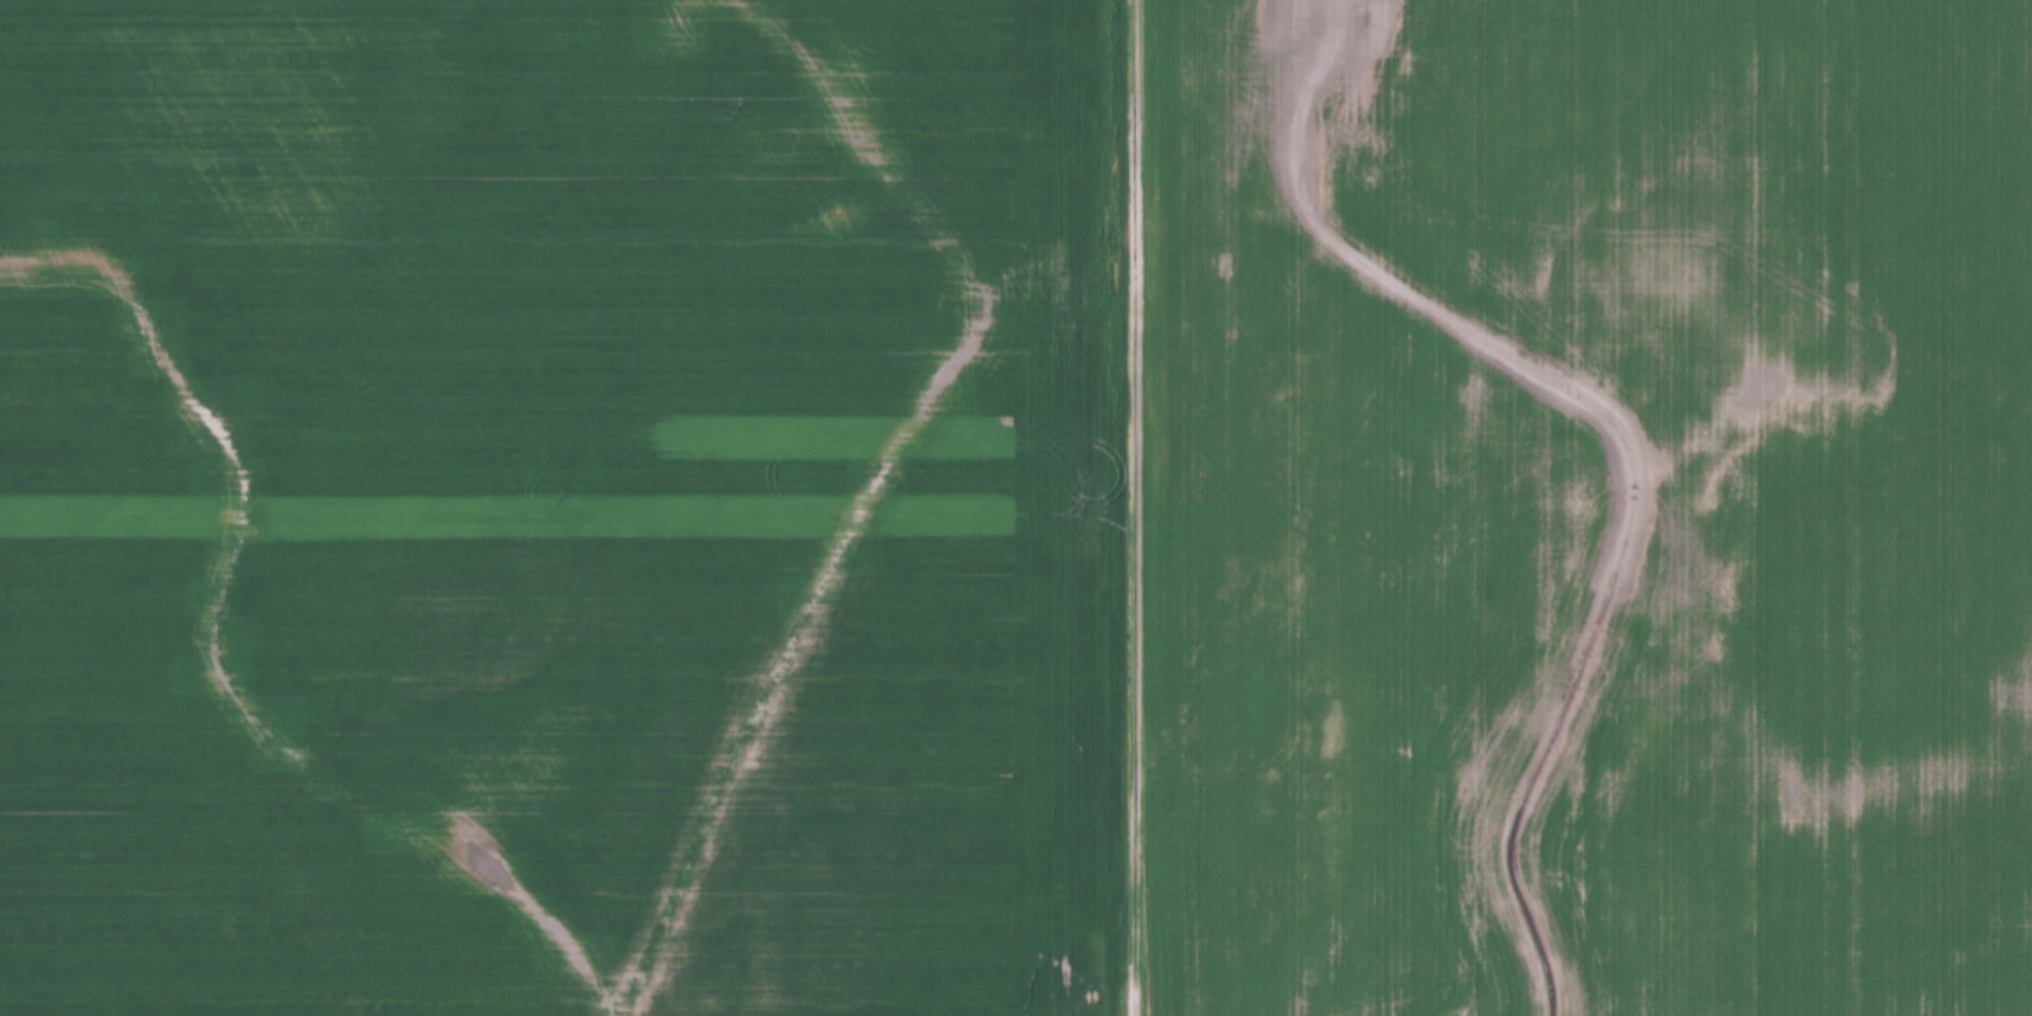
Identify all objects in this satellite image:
road: (1138, 507)

